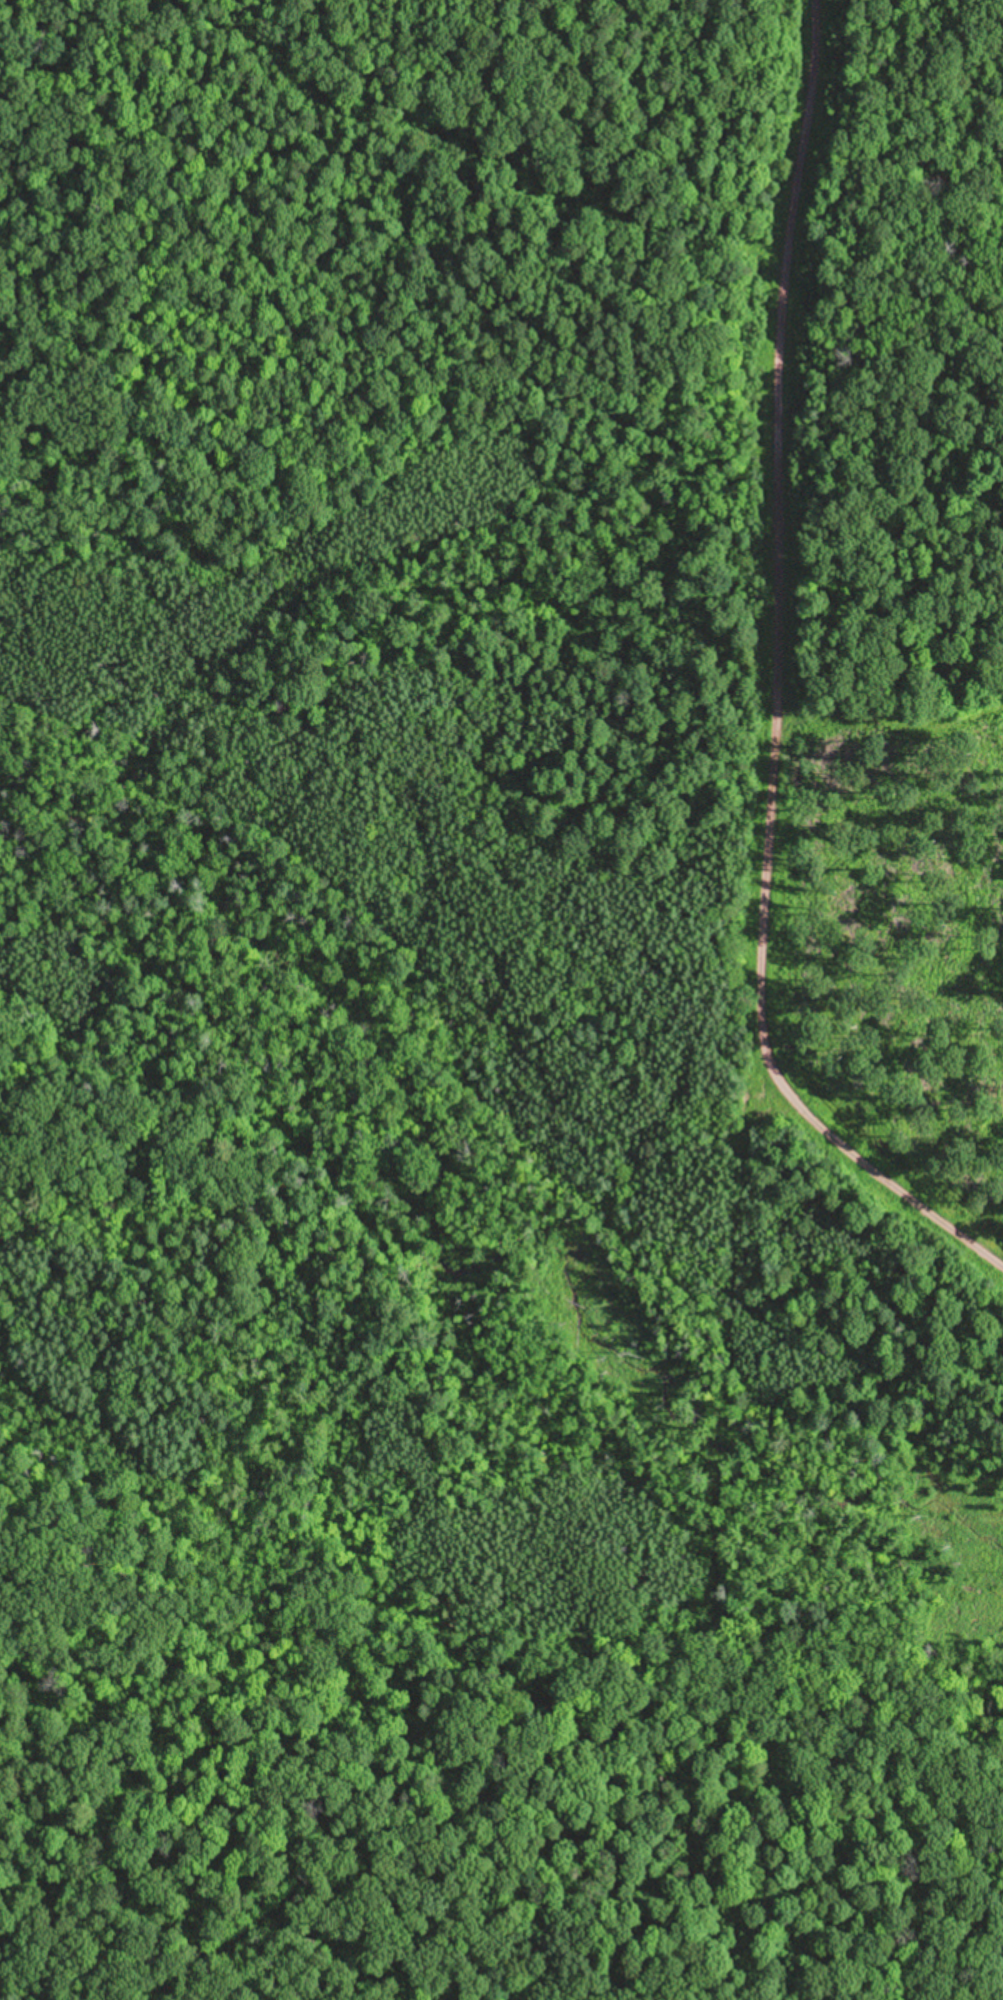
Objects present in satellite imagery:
road: (775, 686)

